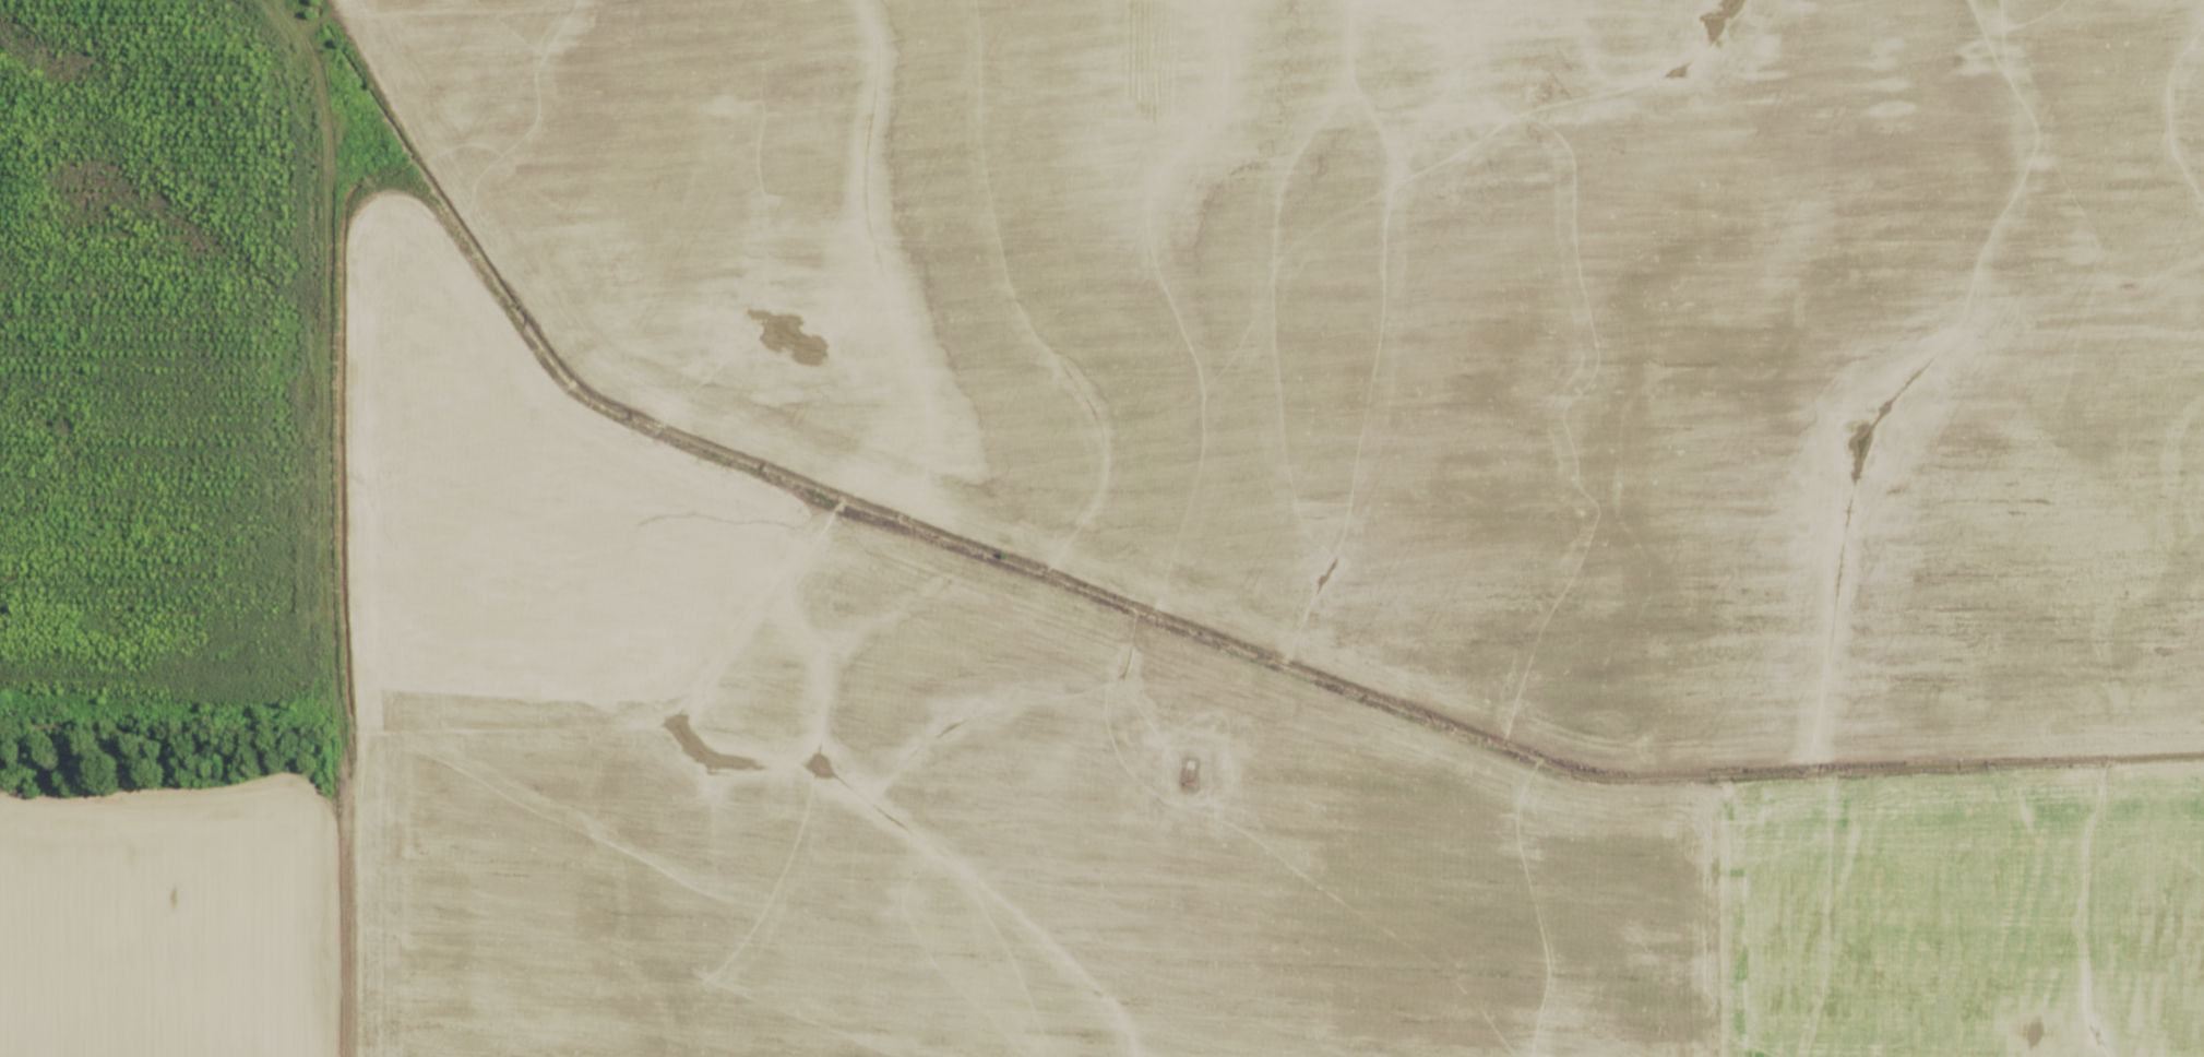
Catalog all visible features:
road: (335, 523)
road: (1145, 591)

